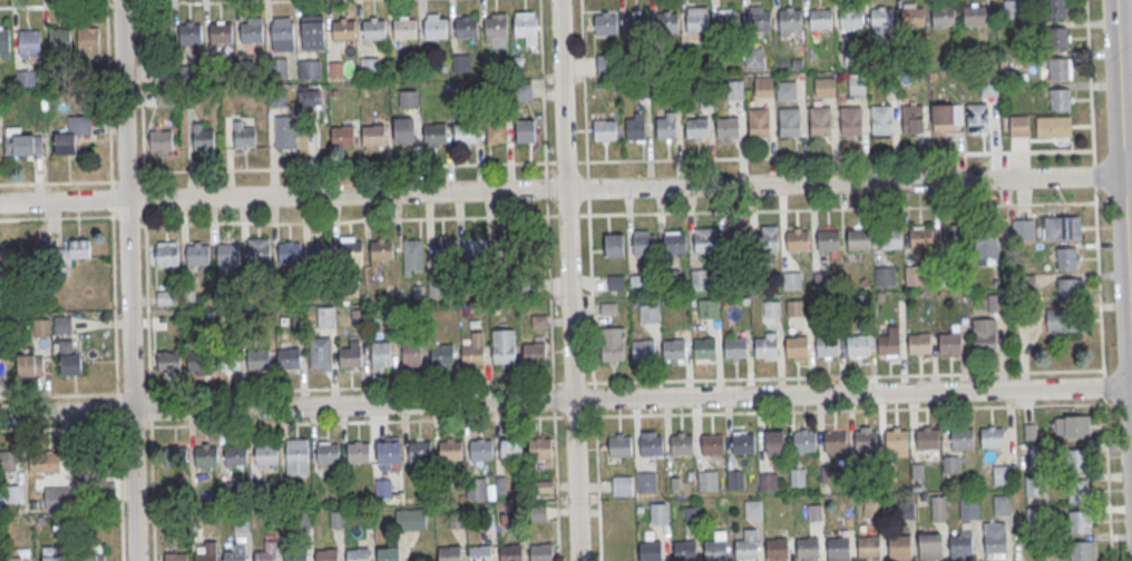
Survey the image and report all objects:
road: (106, 2)
road: (138, 2)
road: (216, 2)
road: (67, 6)
building: (1056, 8)
building: (1013, 9)
building: (974, 14)
building: (850, 17)
building: (943, 17)
building: (820, 18)
building: (880, 18)
building: (911, 18)
building: (759, 20)
building: (789, 20)
building: (696, 21)
building: (728, 21)
building: (666, 22)
building: (635, 23)
building: (605, 24)
building: (524, 26)
building: (495, 27)
building: (466, 28)
building: (404, 29)
building: (436, 29)
building: (252, 30)
building: (373, 30)
building: (343, 31)
building: (221, 32)
building: (312, 32)
building: (160, 33)
building: (189, 33)
building: (282, 37)
building: (1057, 37)
building: (87, 39)
building: (3, 41)
building: (59, 41)
building: (28, 42)
building: (753, 58)
building: (853, 58)
building: (460, 63)
building: (606, 65)
building: (276, 68)
building: (369, 68)
building: (1057, 68)
building: (309, 69)
building: (335, 69)
building: (26, 77)
building: (162, 77)
road: (1090, 81)
building: (889, 85)
building: (989, 85)
building: (856, 86)
road: (583, 87)
building: (762, 87)
building: (823, 87)
road: (140, 88)
road: (541, 88)
building: (643, 89)
building: (674, 89)
building: (734, 90)
building: (785, 90)
building: (523, 92)
road: (108, 93)
building: (277, 98)
building: (306, 99)
building: (408, 99)
building: (1058, 99)
building: (704, 100)
building: (943, 118)
building: (977, 118)
building: (880, 119)
building: (911, 119)
building: (819, 120)
building: (850, 120)
building: (789, 121)
building: (758, 122)
building: (1017, 125)
building: (665, 126)
building: (1053, 126)
building: (635, 127)
building: (696, 127)
building: (726, 127)
building: (496, 128)
building: (404, 129)
building: (604, 129)
building: (524, 130)
building: (285, 131)
building: (463, 134)
building: (372, 135)
building: (435, 135)
building: (342, 136)
building: (245, 137)
building: (69, 138)
building: (203, 139)
building: (160, 140)
building: (20, 141)
road: (836, 156)
road: (566, 161)
road: (332, 167)
road: (1094, 175)
road: (1124, 181)
road: (586, 187)
road: (546, 188)
road: (562, 189)
road: (836, 207)
road: (566, 216)
road: (56, 218)
road: (125, 220)
road: (347, 222)
building: (1061, 227)
building: (1023, 229)
building: (953, 235)
building: (890, 238)
building: (920, 238)
building: (858, 239)
building: (797, 240)
building: (828, 240)
building: (765, 242)
building: (704, 243)
building: (735, 243)
building: (643, 244)
building: (674, 244)
building: (986, 244)
building: (614, 245)
building: (482, 246)
building: (78, 248)
building: (257, 249)
building: (442, 249)
building: (381, 250)
building: (289, 253)
building: (319, 253)
building: (351, 253)
building: (227, 254)
building: (197, 255)
building: (167, 256)
building: (412, 256)
building: (9, 257)
building: (1066, 257)
building: (914, 275)
building: (885, 276)
building: (700, 277)
building: (946, 277)
road: (1130, 278)
road: (129, 279)
road: (568, 279)
building: (820, 279)
road: (1099, 279)
building: (615, 280)
building: (791, 280)
building: (636, 283)
building: (1068, 288)
road: (113, 289)
road: (549, 293)
road: (591, 293)
building: (165, 296)
building: (38, 298)
building: (995, 302)
building: (706, 307)
building: (793, 307)
building: (771, 308)
building: (648, 312)
building: (1026, 315)
building: (325, 316)
building: (358, 317)
building: (1060, 319)
building: (62, 325)
building: (41, 327)
building: (983, 334)
building: (889, 342)
building: (612, 343)
building: (919, 343)
building: (949, 343)
building: (502, 345)
building: (827, 345)
building: (857, 345)
building: (765, 346)
building: (796, 346)
building: (735, 347)
building: (673, 348)
building: (703, 348)
building: (472, 350)
building: (642, 350)
building: (534, 352)
building: (410, 353)
building: (321, 354)
building: (380, 354)
building: (441, 354)
building: (350, 357)
building: (68, 358)
building: (258, 358)
building: (289, 358)
building: (227, 360)
building: (198, 361)
building: (168, 362)
building: (26, 365)
road: (843, 375)
road: (573, 382)
road: (1103, 386)
road: (245, 391)
road: (594, 396)
road: (554, 398)
road: (1104, 401)
road: (566, 402)
road: (850, 410)
road: (574, 416)
road: (340, 422)
building: (1077, 426)
road: (119, 433)
building: (992, 437)
building: (927, 439)
building: (960, 439)
building: (896, 440)
building: (835, 441)
building: (866, 441)
building: (773, 442)
building: (803, 442)
building: (712, 444)
building: (743, 444)
building: (651, 445)
building: (681, 445)
building: (618, 446)
building: (538, 449)
building: (480, 450)
building: (509, 450)
building: (449, 451)
building: (388, 452)
building: (419, 452)
building: (358, 453)
building: (328, 454)
building: (1040, 454)
building: (174, 455)
building: (235, 455)
building: (266, 455)
building: (205, 456)
building: (296, 456)
building: (1076, 460)
building: (8, 461)
building: (45, 462)
building: (950, 464)
building: (90, 466)
building: (917, 471)
building: (689, 474)
building: (827, 474)
building: (1002, 475)
road: (152, 476)
building: (797, 478)
building: (734, 480)
building: (707, 481)
building: (645, 482)
road: (1107, 482)
road: (597, 483)
building: (674, 483)
building: (767, 483)
road: (556, 485)
building: (621, 485)
building: (1034, 485)
building: (382, 488)
building: (476, 488)
building: (1077, 491)
building: (14, 493)
building: (57, 496)
building: (1003, 504)
building: (874, 508)
building: (938, 509)
building: (969, 509)
building: (640, 510)
building: (753, 510)
building: (906, 510)
building: (813, 512)
building: (658, 514)
building: (691, 514)
building: (1036, 515)
building: (410, 518)
building: (240, 522)
building: (1079, 522)
building: (995, 538)
building: (929, 544)
building: (960, 544)
building: (898, 545)
building: (838, 547)
building: (868, 547)
building: (807, 548)
building: (745, 549)
building: (777, 549)
building: (684, 550)
building: (714, 550)
building: (650, 551)
building: (1082, 551)
building: (207, 552)
building: (267, 552)
building: (510, 552)
building: (540, 552)
building: (236, 553)
building: (448, 553)
building: (479, 553)
building: (51, 554)
building: (326, 554)
building: (357, 554)
building: (388, 554)
building: (18, 555)
building: (92, 555)
building: (295, 555)
building: (175, 557)

